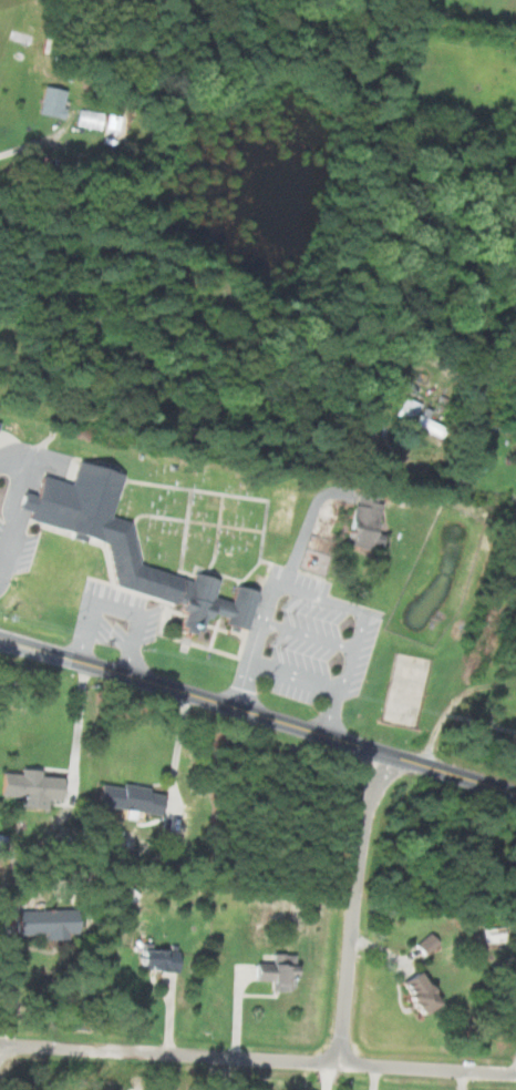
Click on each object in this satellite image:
building: (49, 103)
building: (86, 119)
road: (30, 144)
road: (494, 368)
road: (401, 377)
building: (412, 414)
building: (363, 519)
park: (195, 520)
building: (124, 546)
road: (317, 598)
road: (117, 610)
road: (453, 704)
road: (258, 714)
road: (78, 730)
road: (175, 750)
building: (29, 787)
building: (126, 798)
road: (354, 907)
building: (42, 923)
building: (491, 935)
building: (424, 944)
building: (155, 960)
building: (271, 971)
road: (3, 972)
building: (413, 992)
road: (257, 1058)
road: (324, 1076)

